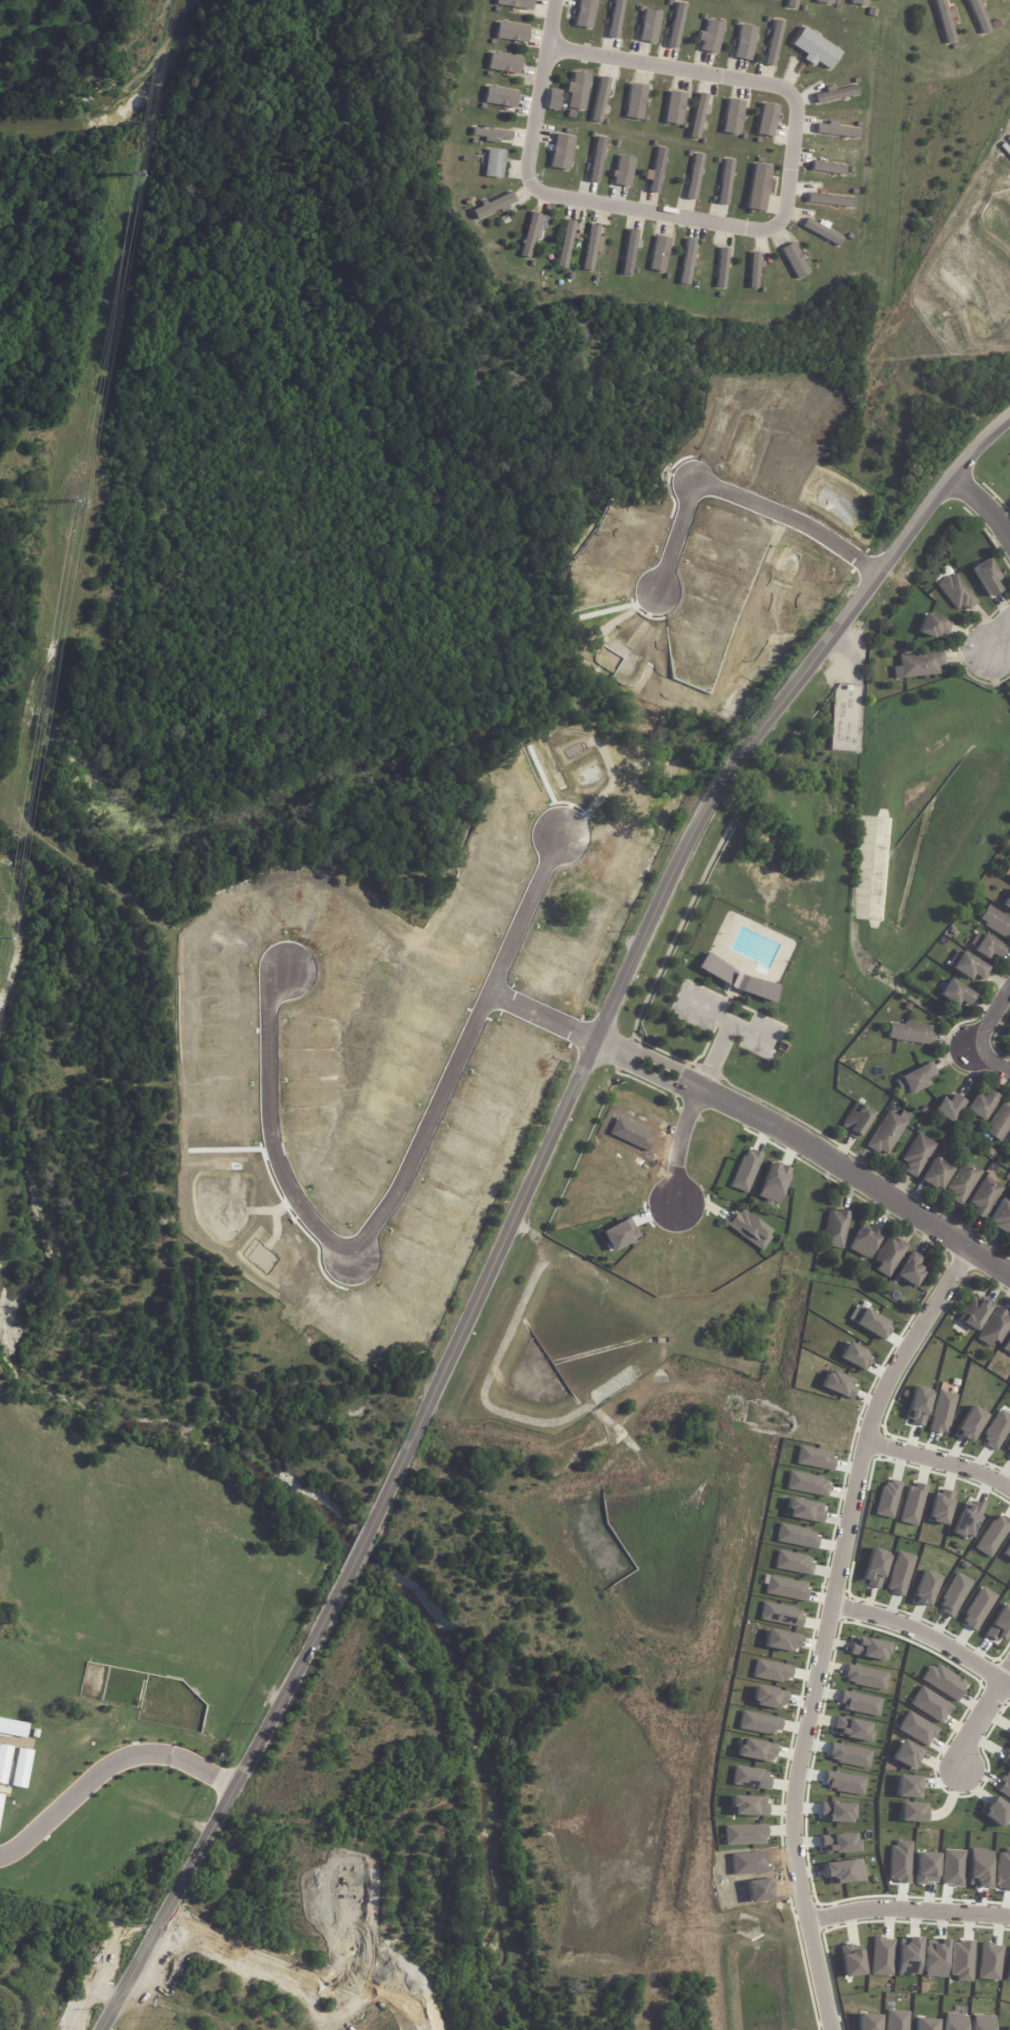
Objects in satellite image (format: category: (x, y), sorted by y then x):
building: (825, 1)
building: (860, 2)
building: (516, 4)
building: (792, 4)
building: (584, 13)
building: (978, 16)
building: (615, 19)
building: (945, 22)
building: (675, 25)
building: (649, 26)
building: (512, 32)
building: (711, 36)
building: (745, 42)
building: (773, 43)
building: (815, 48)
building: (504, 63)
road: (538, 89)
building: (577, 90)
building: (836, 93)
building: (500, 97)
building: (553, 99)
building: (600, 99)
building: (635, 101)
building: (674, 108)
building: (697, 116)
building: (733, 116)
building: (767, 120)
building: (837, 130)
building: (492, 135)
building: (1006, 147)
building: (561, 152)
building: (596, 160)
building: (494, 163)
road: (788, 164)
building: (828, 167)
building: (623, 171)
building: (655, 171)
building: (694, 176)
building: (725, 181)
building: (758, 187)
building: (829, 199)
building: (493, 205)
building: (821, 230)
building: (532, 232)
building: (565, 244)
building: (590, 247)
building: (629, 252)
building: (659, 254)
building: (794, 260)
building: (687, 262)
building: (722, 268)
building: (754, 270)
road: (744, 488)
road: (987, 506)
building: (987, 577)
building: (956, 593)
building: (933, 626)
road: (997, 633)
building: (907, 652)
building: (919, 666)
building: (1009, 879)
building: (1007, 906)
building: (996, 923)
building: (988, 949)
road: (504, 964)
building: (970, 969)
building: (955, 996)
road: (992, 1020)
building: (914, 1034)
road: (992, 1059)
building: (916, 1080)
building: (981, 1106)
building: (949, 1109)
building: (856, 1122)
building: (1000, 1124)
building: (888, 1133)
road: (682, 1144)
building: (1009, 1145)
road: (810, 1146)
building: (964, 1148)
building: (918, 1156)
building: (746, 1170)
building: (937, 1175)
building: (774, 1182)
building: (963, 1184)
building: (985, 1199)
road: (521, 1202)
building: (1001, 1221)
building: (750, 1228)
building: (836, 1228)
building: (620, 1234)
building: (865, 1240)
road: (355, 1241)
building: (687, 1249)
building: (676, 1252)
building: (890, 1256)
building: (911, 1269)
building: (675, 1276)
building: (975, 1312)
building: (872, 1323)
building: (995, 1327)
building: (1007, 1346)
building: (854, 1356)
building: (838, 1384)
building: (918, 1405)
building: (942, 1413)
building: (970, 1423)
building: (996, 1431)
building: (1008, 1453)
building: (814, 1458)
road: (940, 1460)
building: (807, 1484)
building: (888, 1499)
building: (912, 1504)
building: (941, 1507)
building: (804, 1510)
building: (968, 1520)
building: (993, 1535)
building: (797, 1537)
building: (1007, 1551)
building: (793, 1563)
building: (875, 1567)
building: (900, 1574)
building: (786, 1588)
building: (925, 1588)
building: (954, 1595)
building: (978, 1609)
building: (781, 1615)
building: (1000, 1624)
road: (824, 1627)
road: (924, 1634)
building: (781, 1641)
building: (869, 1649)
building: (771, 1671)
building: (865, 1677)
building: (943, 1682)
building: (768, 1698)
building: (860, 1704)
building: (930, 1705)
road: (978, 1714)
building: (759, 1723)
building: (13, 1728)
building: (852, 1729)
building: (917, 1729)
building: (755, 1750)
building: (906, 1755)
building: (850, 1756)
building: (1006, 1758)
building: (4, 1762)
building: (22, 1768)
road: (105, 1772)
building: (751, 1778)
building: (844, 1783)
building: (1005, 1786)
building: (908, 1787)
building: (1, 1801)
building: (748, 1806)
building: (996, 1811)
building: (837, 1812)
building: (911, 1812)
building: (745, 1835)
park: (359, 1840)
building: (838, 1843)
building: (844, 1872)
road: (906, 1905)
building: (882, 1957)
building: (909, 1957)
building: (935, 1959)
building: (851, 1961)
building: (962, 1961)
building: (990, 1962)
building: (1008, 1971)
building: (897, 2020)
building: (868, 2022)
building: (982, 2022)
building: (925, 2024)
building: (1009, 2028)
road: (100, 2029)

